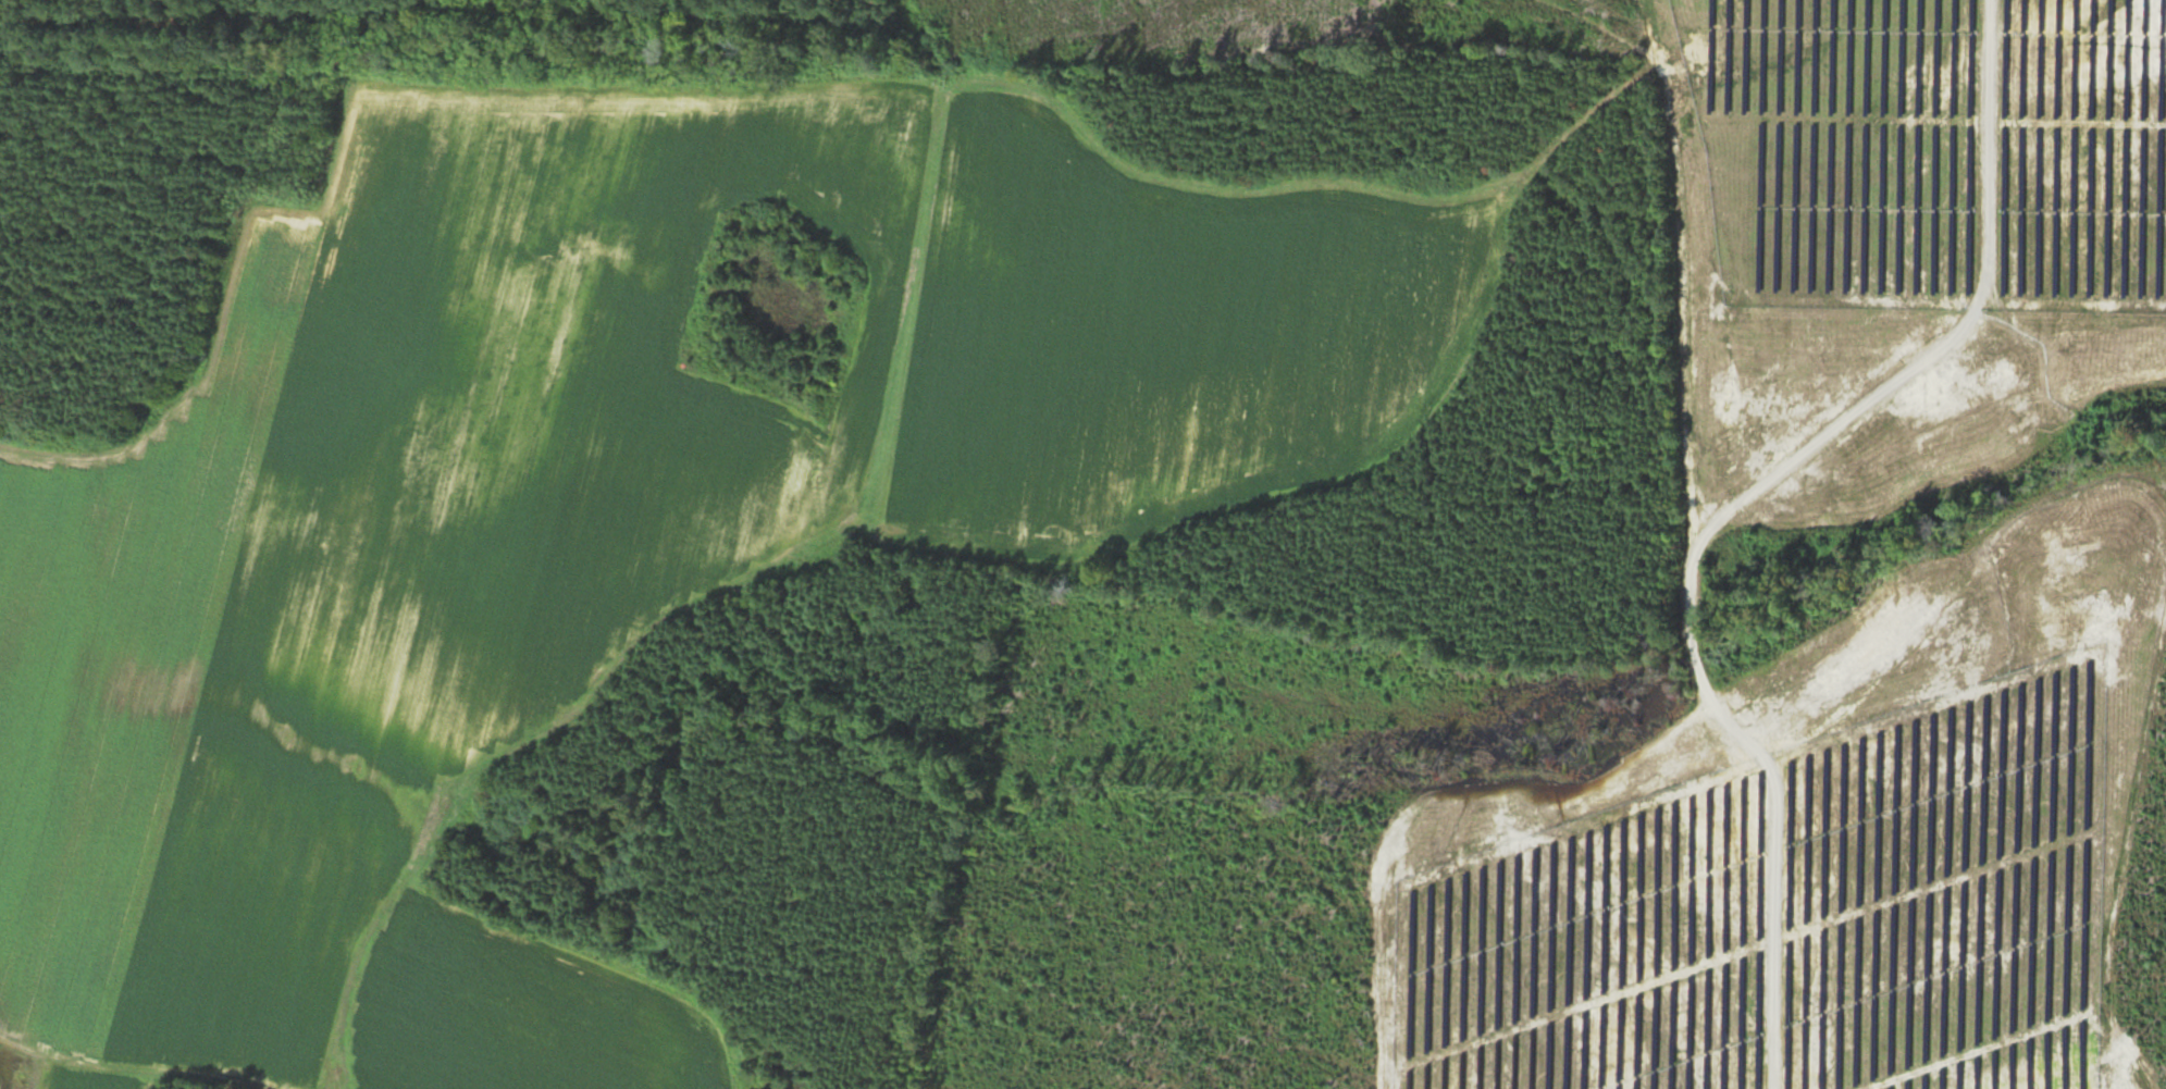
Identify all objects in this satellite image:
road: (133, 1043)

